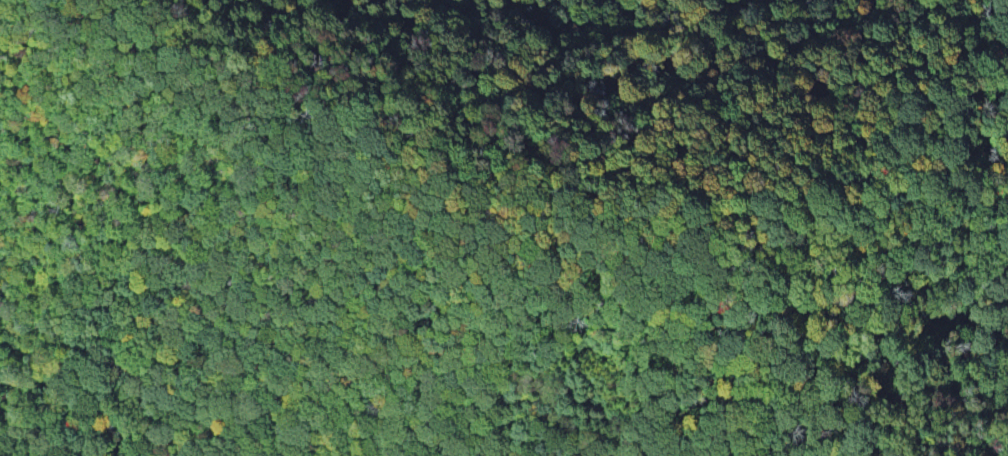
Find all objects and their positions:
road: (389, 150)

